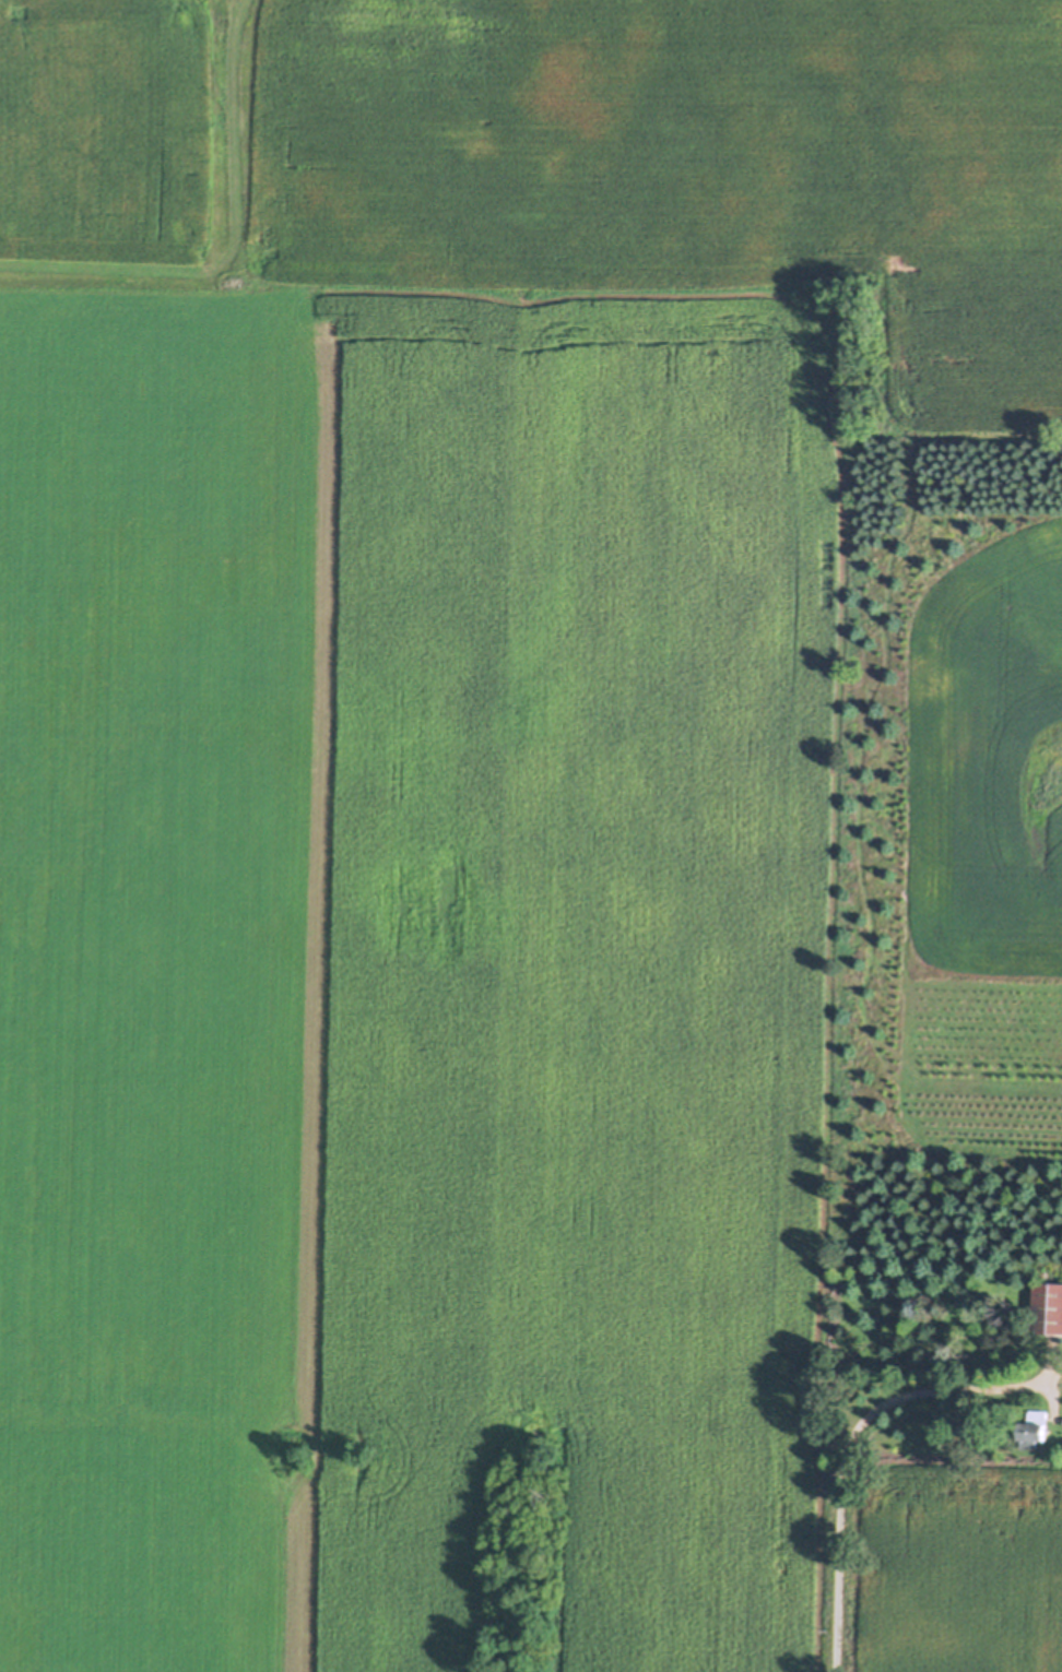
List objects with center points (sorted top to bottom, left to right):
crop: (562, 163)
crop: (412, 981)
building: (1046, 1309)
building: (1032, 1431)
road: (847, 1445)
crop: (959, 1565)

